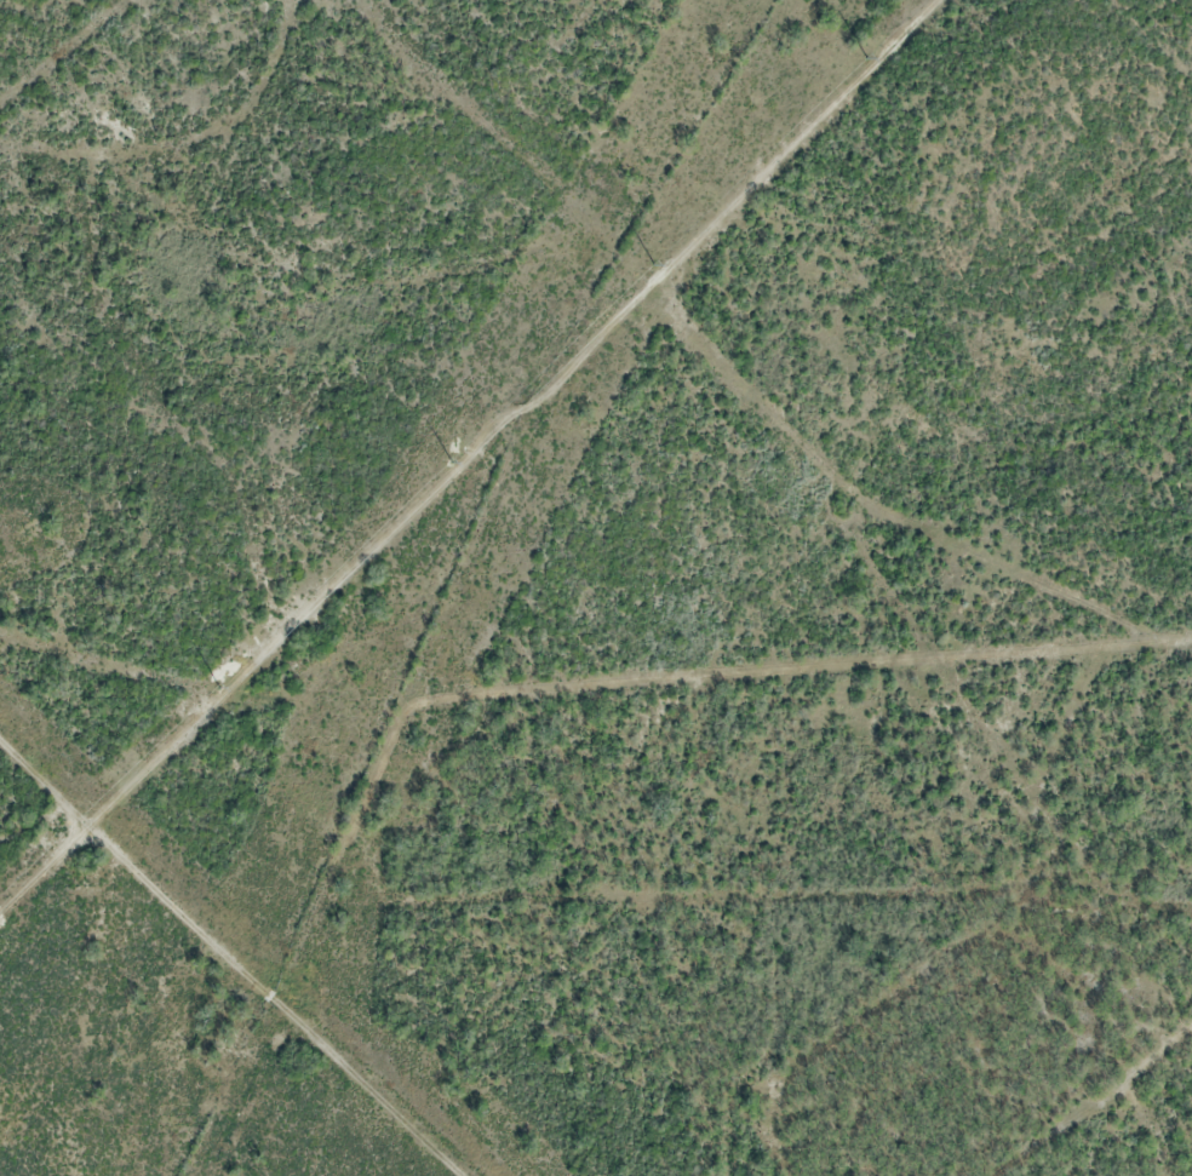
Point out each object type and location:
power tower: (865, 58)
power tower: (654, 263)
power tower: (451, 460)
power tower: (219, 687)

